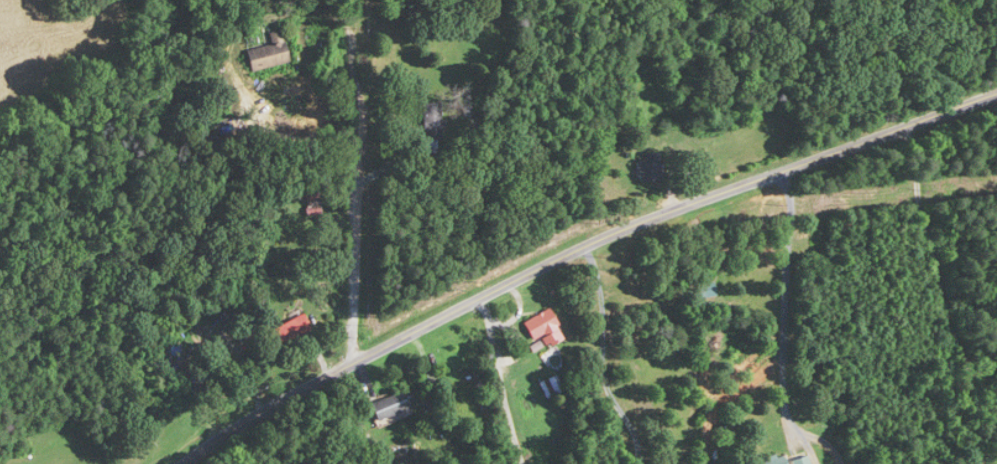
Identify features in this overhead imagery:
building: (270, 52)
building: (432, 118)
building: (649, 170)
road: (355, 181)
building: (313, 205)
road: (573, 248)
road: (934, 263)
road: (789, 300)
building: (544, 327)
building: (290, 329)
road: (602, 356)
building: (216, 365)
road: (499, 379)
building: (390, 406)
building: (774, 460)
building: (801, 460)

